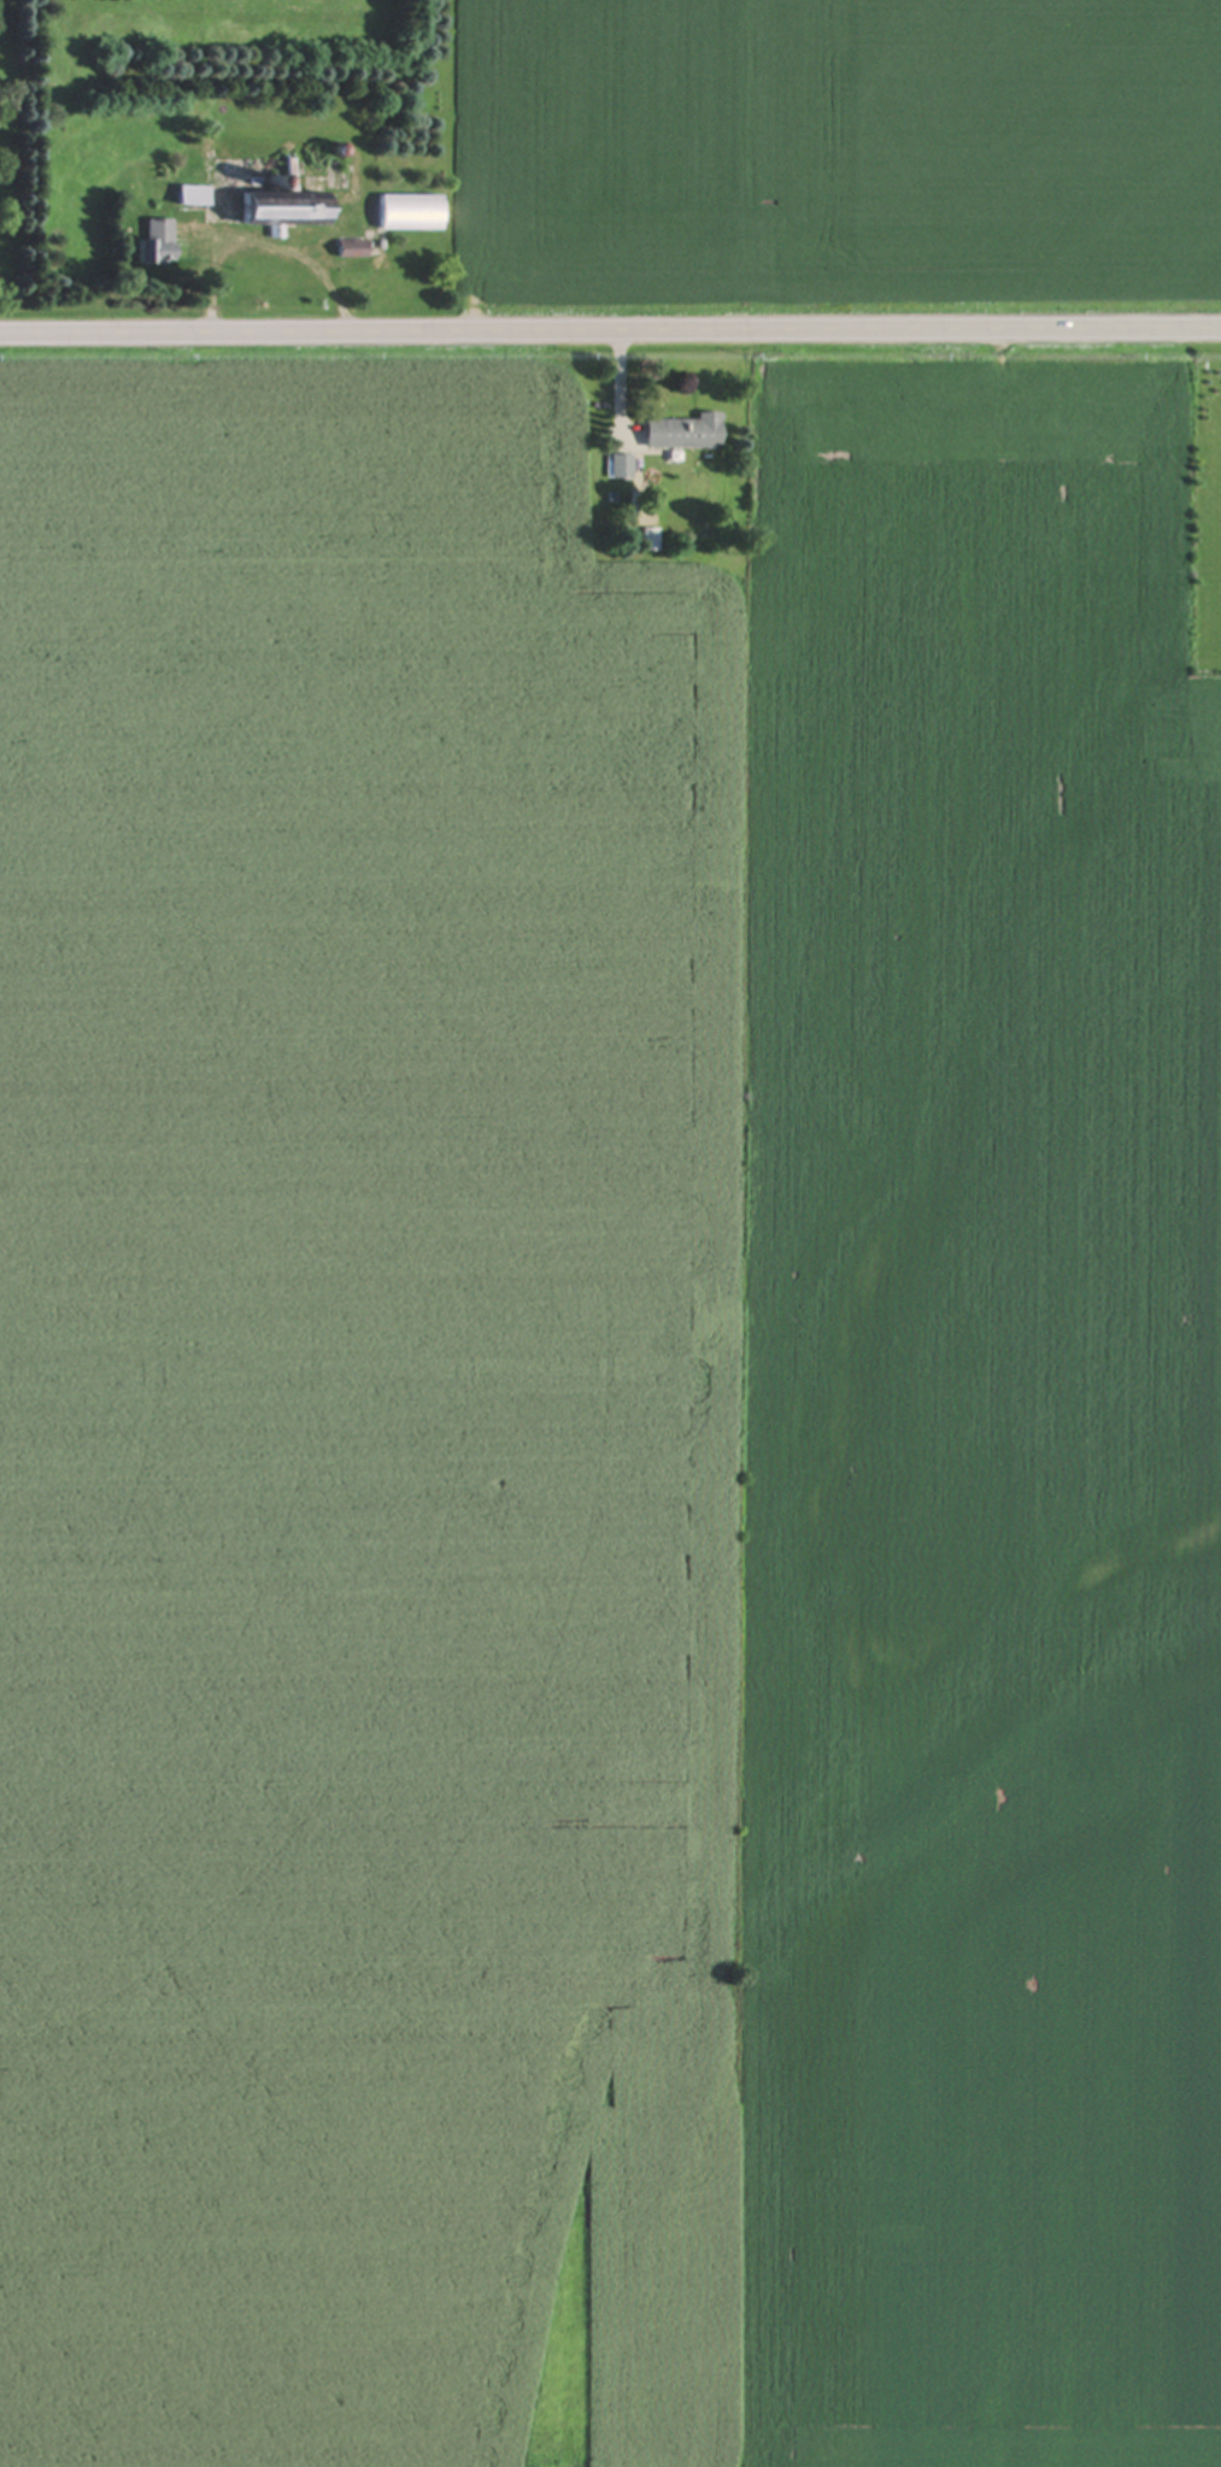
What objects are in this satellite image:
crop: (642, 143)
crop: (1027, 143)
road: (610, 325)
crop: (606, 1426)

